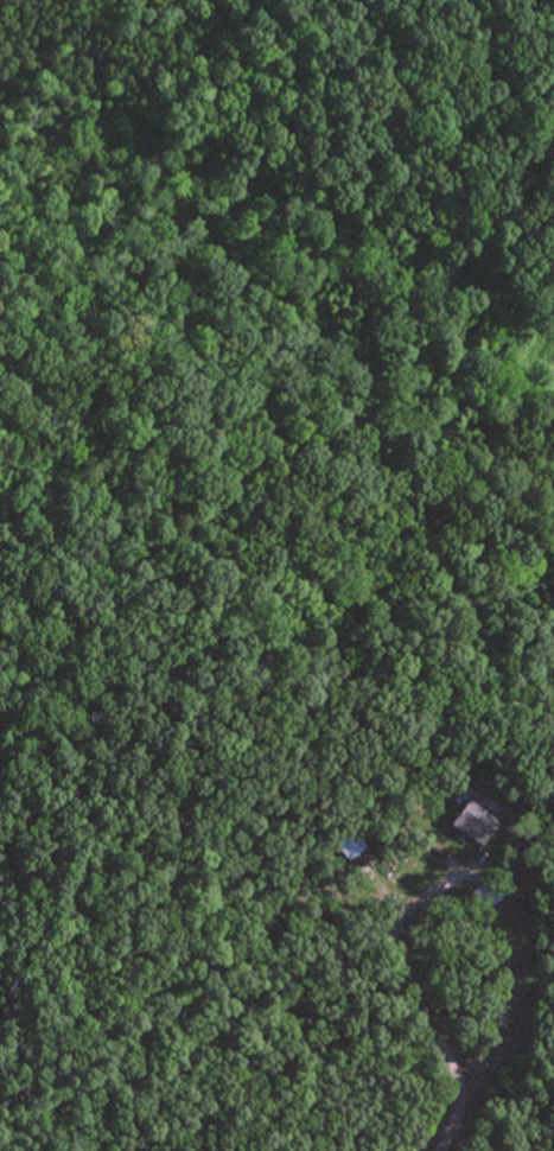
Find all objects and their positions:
building: (475, 821)
building: (352, 844)
road: (420, 996)

